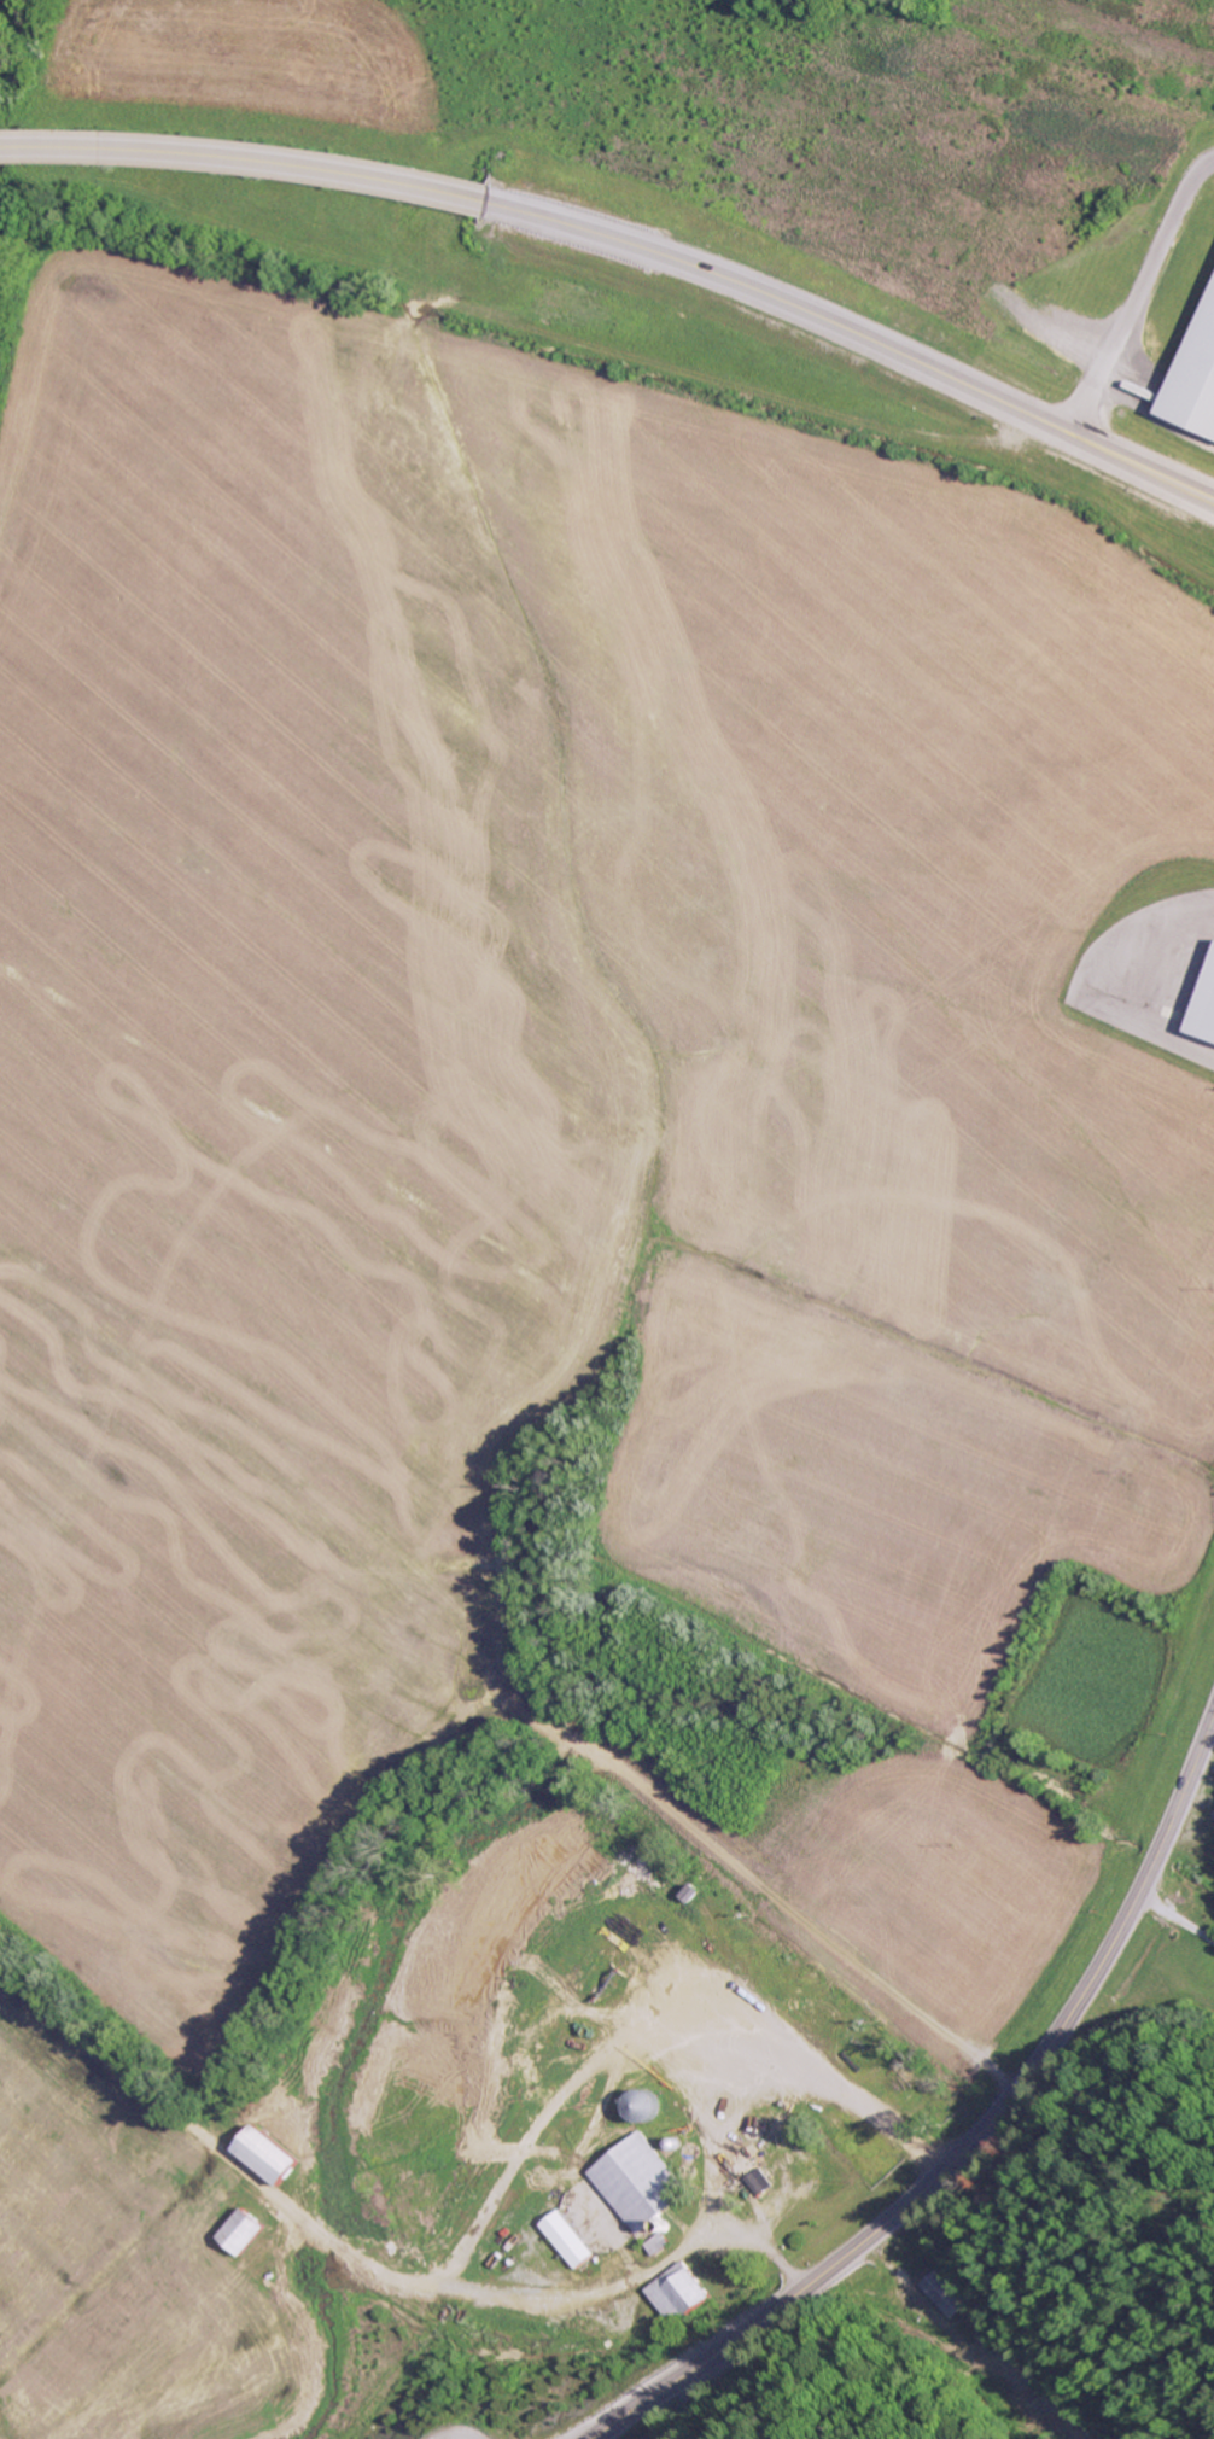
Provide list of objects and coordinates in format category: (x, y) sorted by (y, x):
road: (246, 158)
road: (1208, 185)
road: (858, 331)
building: (1196, 380)
building: (1203, 1004)
building: (640, 2105)
road: (975, 2134)
building: (264, 2154)
building: (635, 2181)
building: (757, 2181)
building: (240, 2231)
building: (565, 2239)
building: (673, 2293)
building: (944, 2294)
road: (465, 2433)

